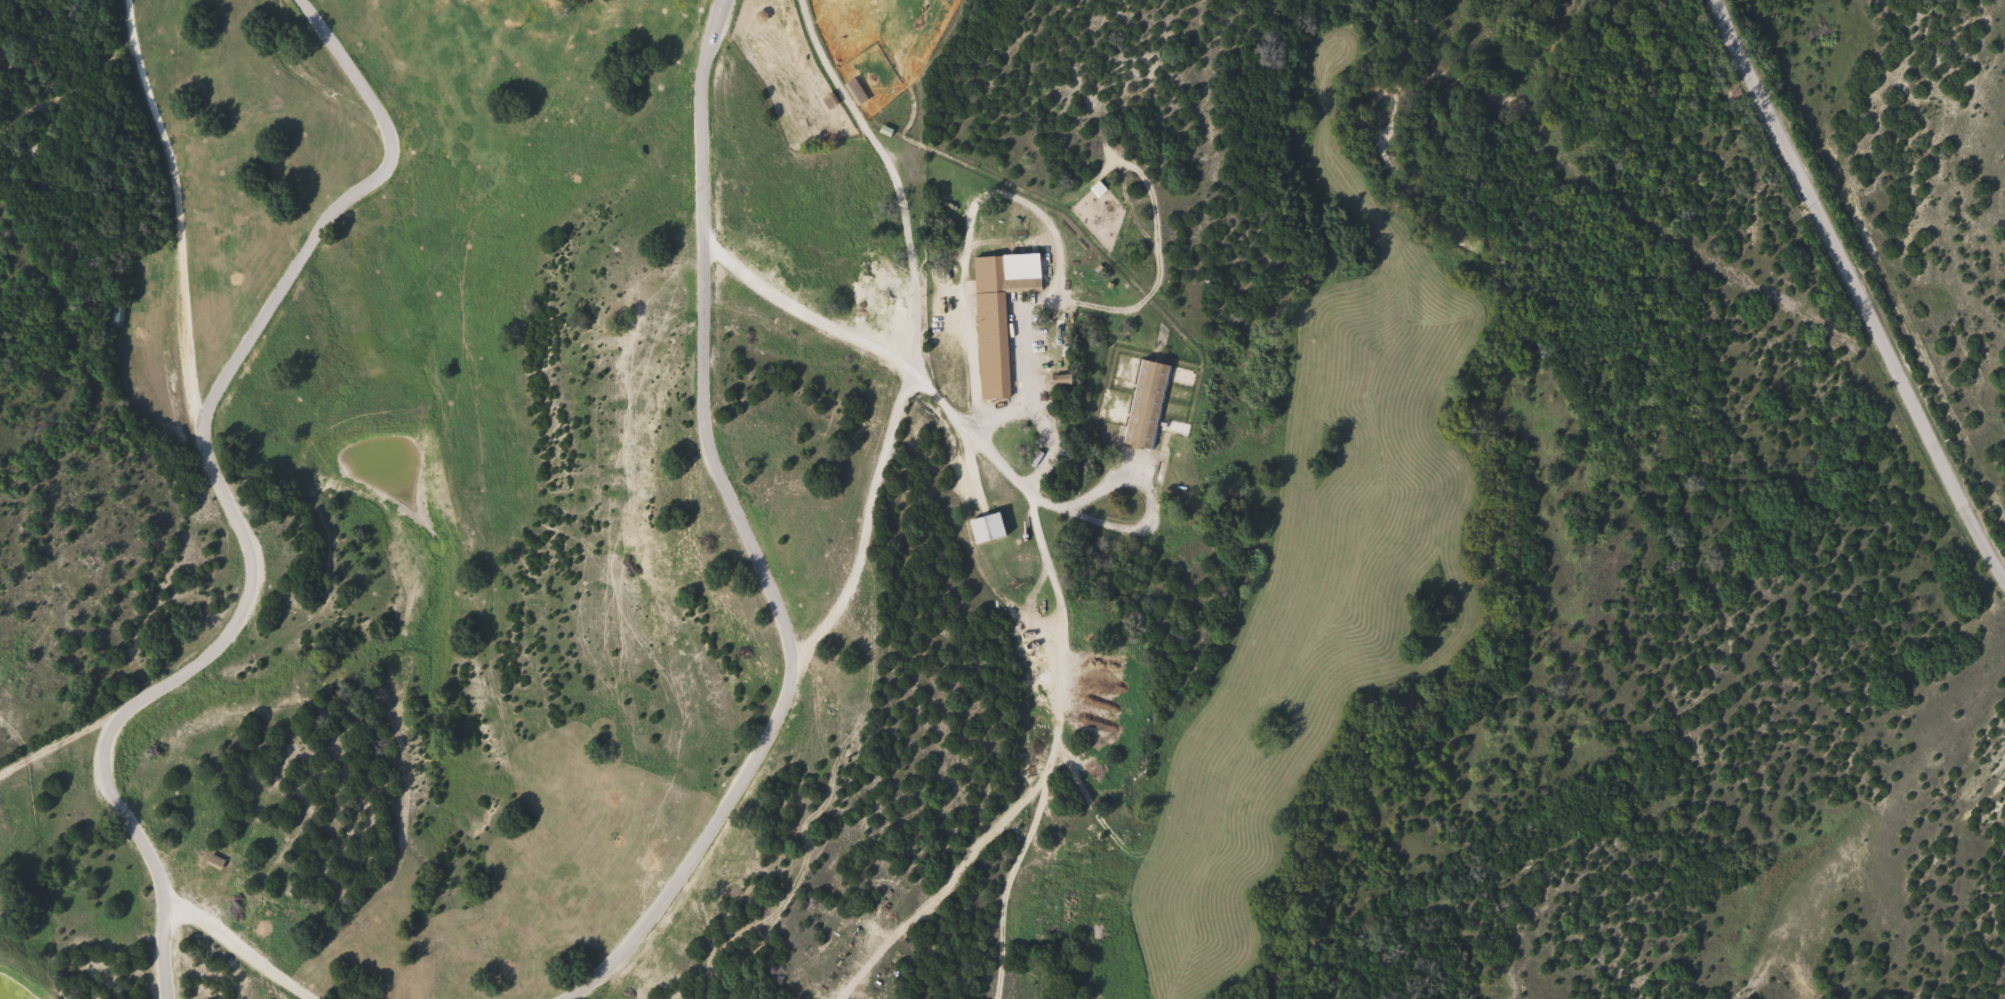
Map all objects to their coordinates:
building: (858, 91)
road: (702, 121)
road: (900, 181)
road: (334, 207)
road: (1856, 290)
road: (806, 316)
building: (119, 317)
building: (998, 323)
building: (1151, 405)
road: (1077, 509)
building: (990, 528)
road: (250, 576)
road: (763, 578)
road: (57, 740)
road: (1052, 746)
road: (702, 839)
road: (154, 946)

